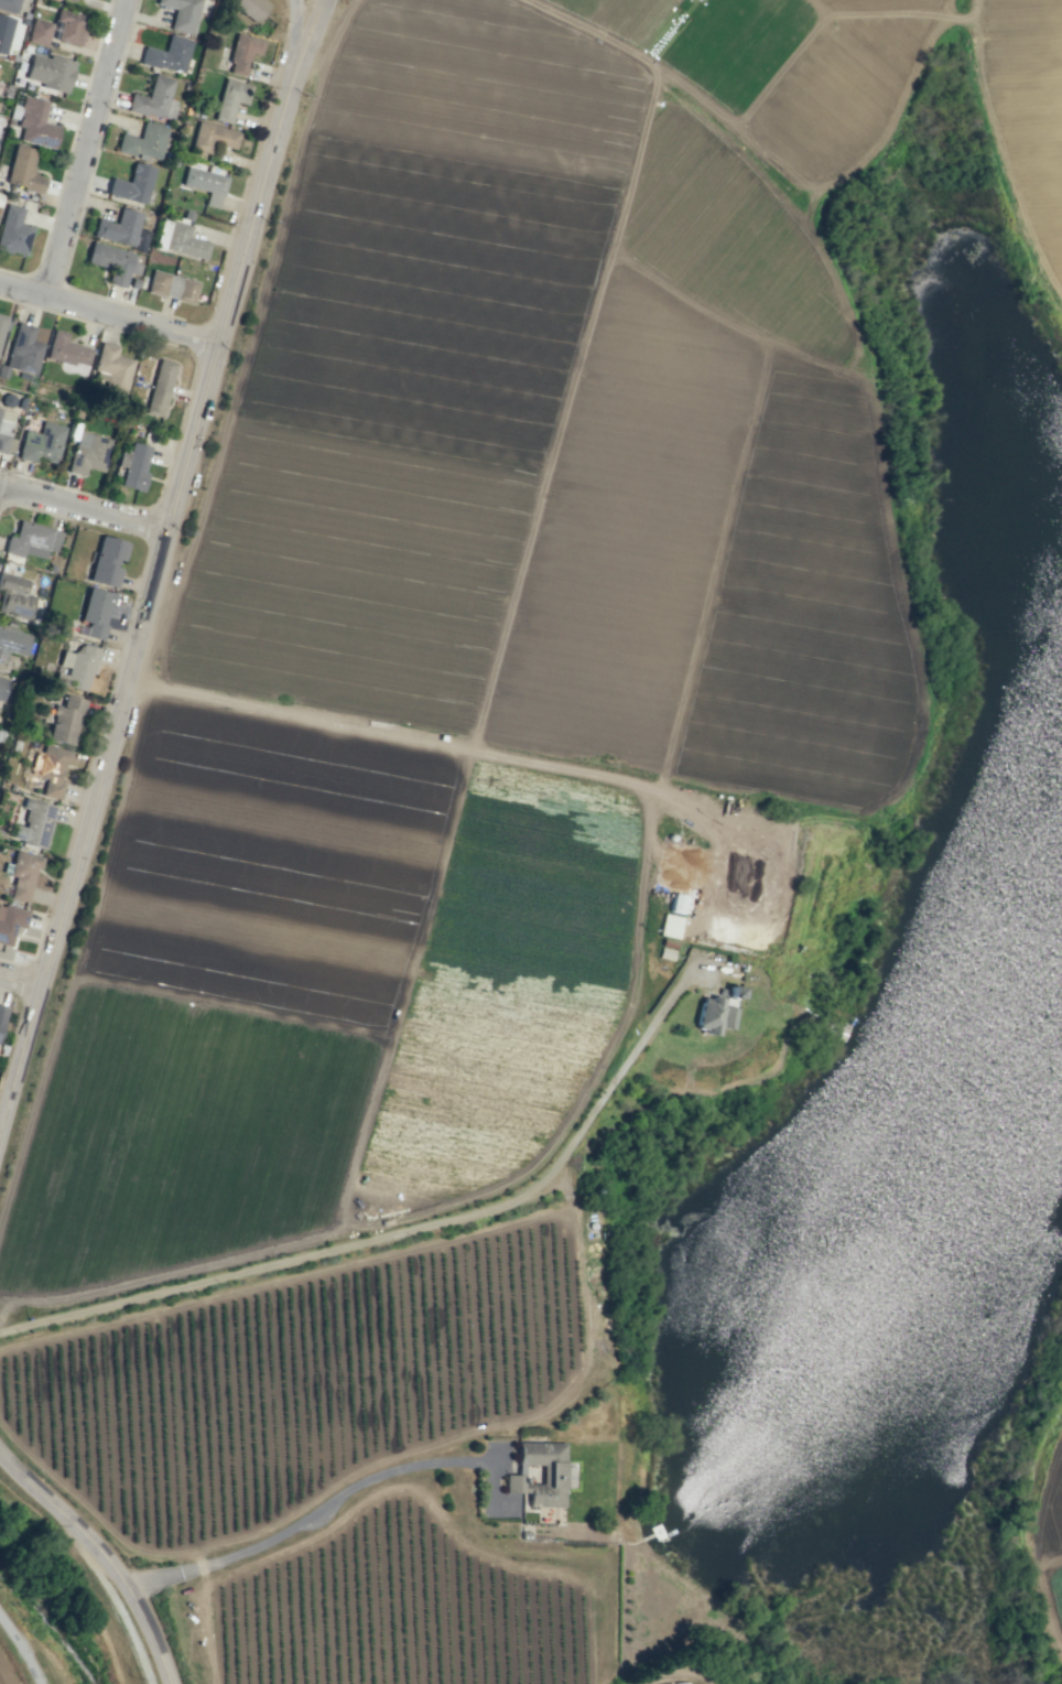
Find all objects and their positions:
building: (69, 0)
building: (9, 6)
building: (251, 8)
building: (181, 14)
building: (68, 25)
road: (295, 28)
building: (39, 31)
building: (4, 32)
building: (242, 53)
building: (167, 54)
building: (50, 72)
building: (230, 98)
building: (154, 99)
road: (278, 118)
building: (35, 122)
building: (213, 137)
building: (143, 141)
road: (93, 148)
building: (23, 169)
building: (132, 184)
building: (205, 184)
building: (118, 227)
building: (13, 230)
building: (180, 239)
building: (112, 261)
building: (171, 285)
road: (231, 292)
road: (109, 312)
building: (1, 323)
building: (22, 349)
building: (65, 349)
building: (111, 369)
building: (160, 387)
building: (6, 431)
building: (42, 443)
building: (88, 453)
building: (134, 466)
road: (0, 483)
road: (0, 485)
road: (84, 506)
building: (32, 540)
building: (107, 561)
building: (14, 596)
building: (95, 612)
park: (964, 619)
building: (12, 643)
building: (78, 667)
building: (2, 688)
road: (110, 735)
road: (474, 748)
building: (52, 769)
building: (34, 823)
building: (22, 875)
building: (675, 903)
building: (10, 921)
crop: (517, 926)
building: (669, 926)
road: (19, 980)
building: (716, 1010)
building: (1, 1015)
crop: (6, 1095)
road: (398, 1231)
building: (539, 1472)
road: (311, 1514)
road: (102, 1556)
road: (20, 1650)
crop: (2, 1680)

